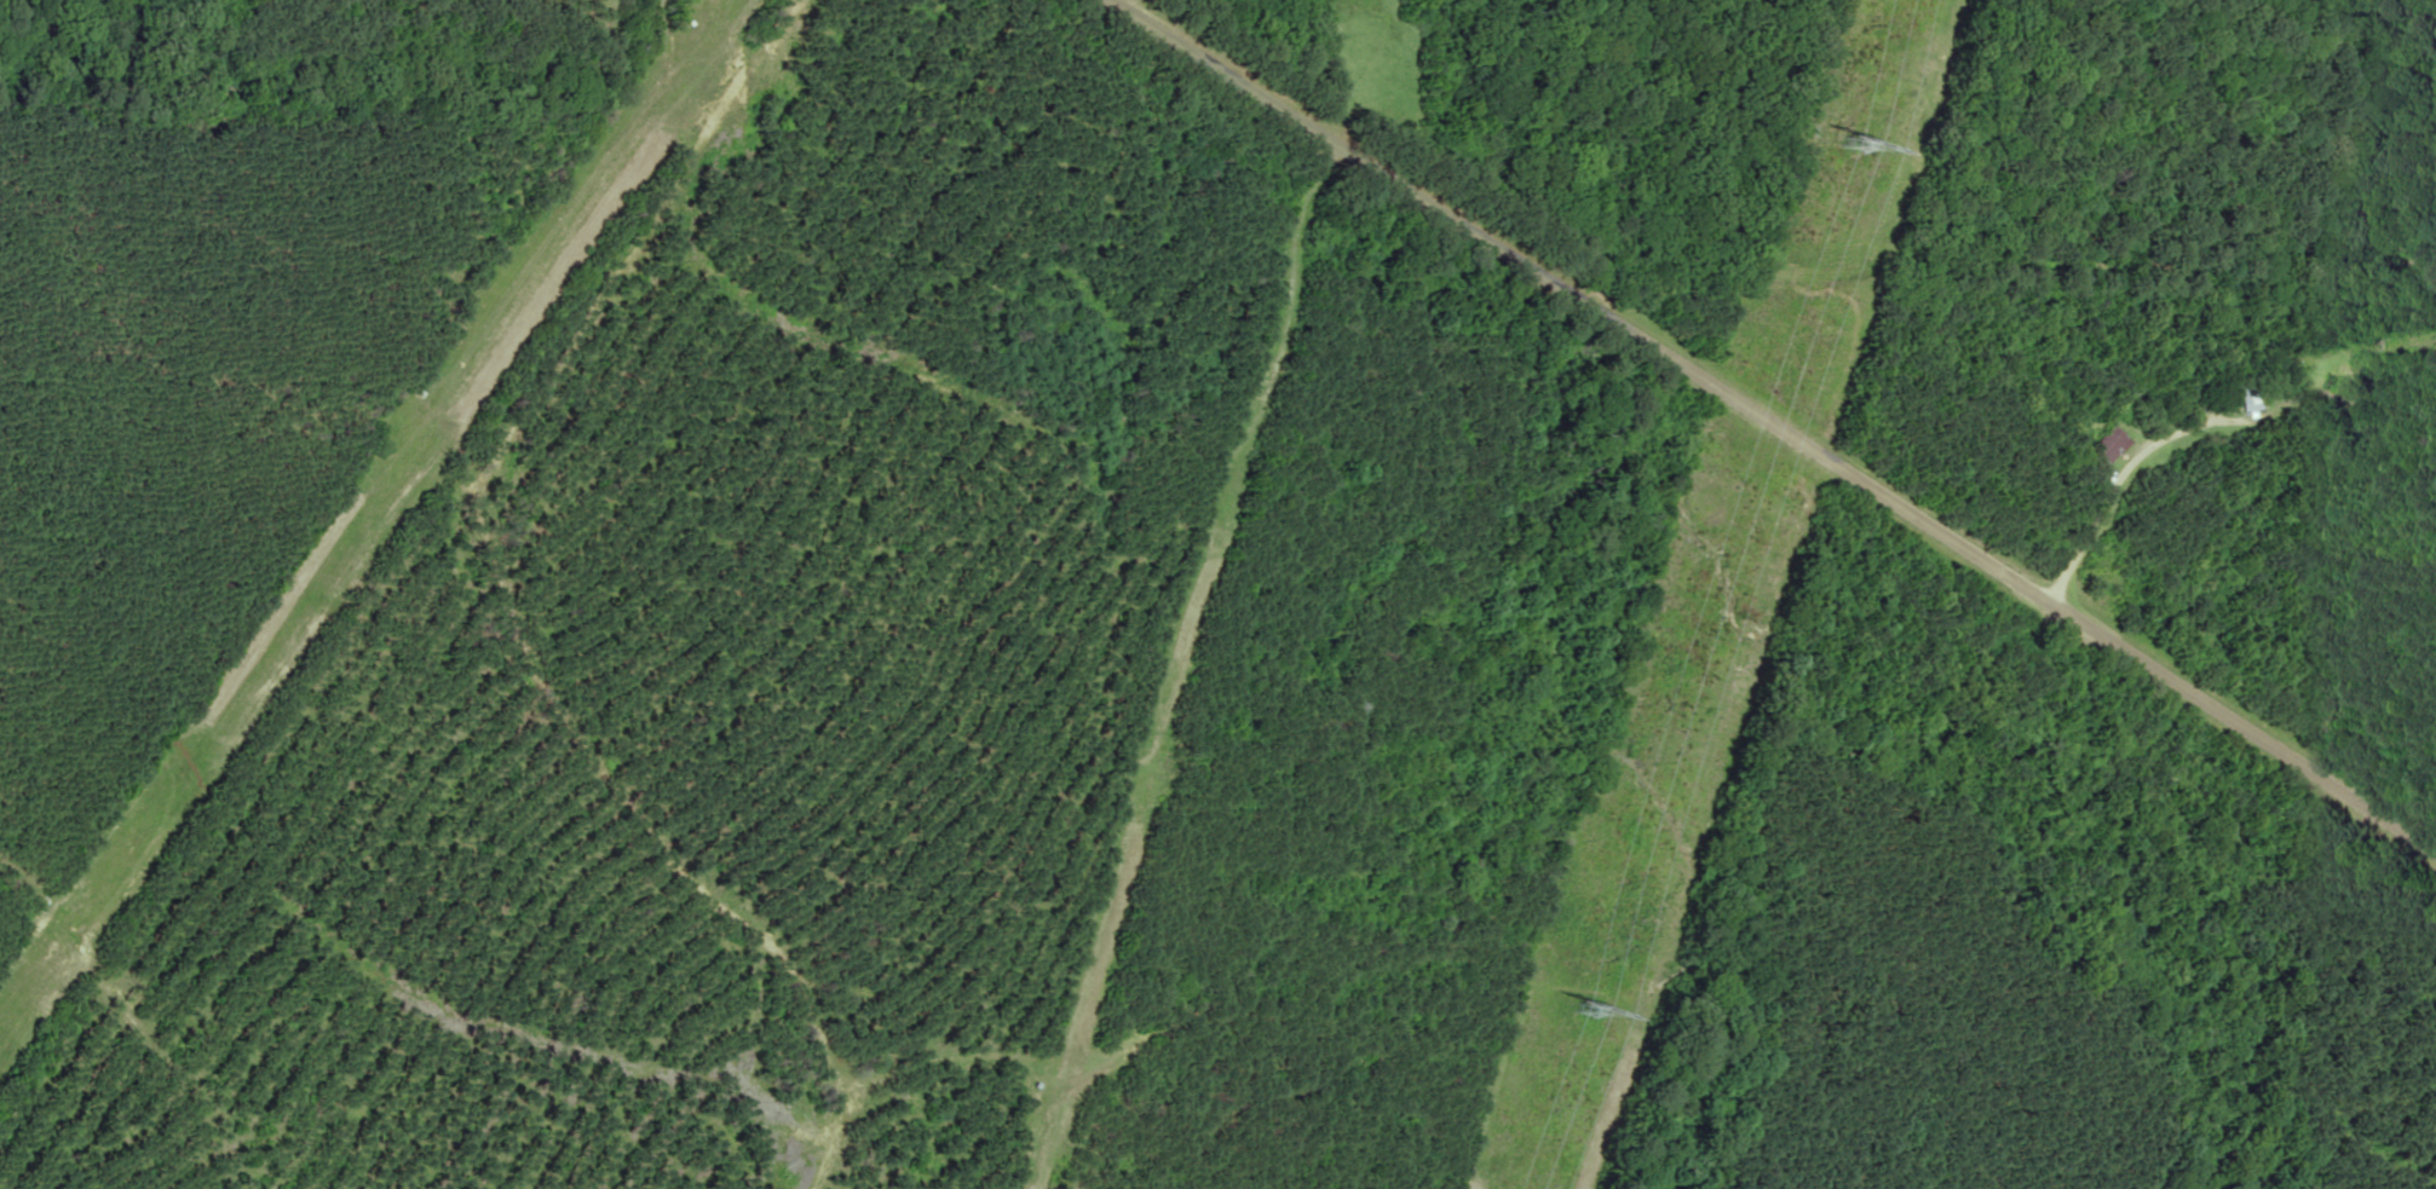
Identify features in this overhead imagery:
power tower: (1849, 133)
building: (2348, 374)
building: (2242, 399)
road: (1780, 415)
building: (2101, 445)
road: (2102, 501)
road: (566, 619)
power tower: (1576, 1004)

